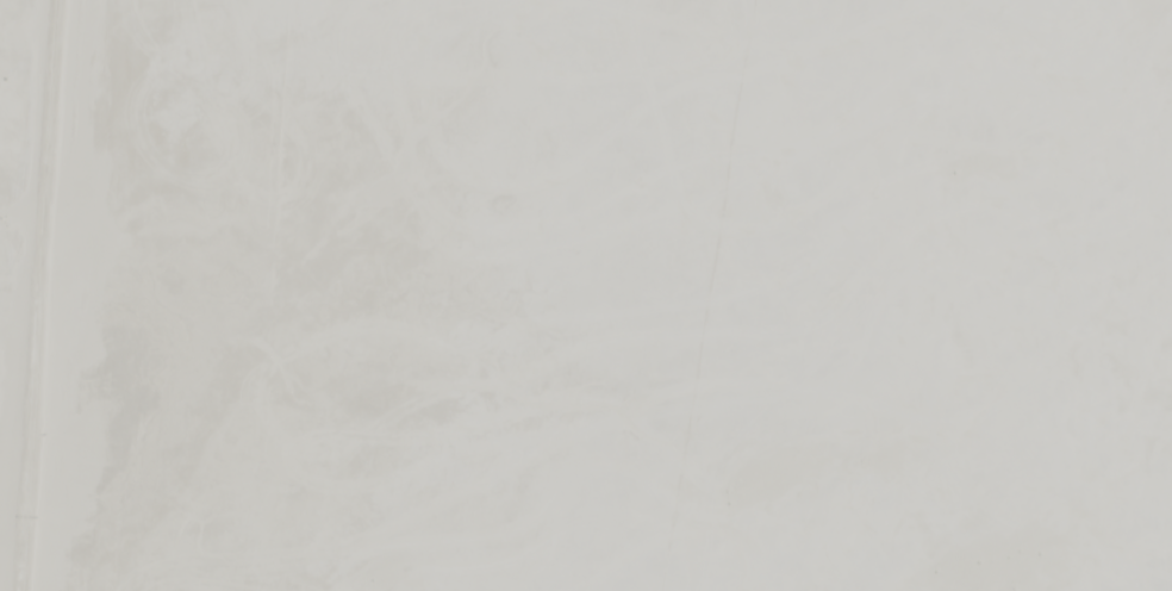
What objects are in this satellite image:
road: (7, 119)
road: (894, 503)

